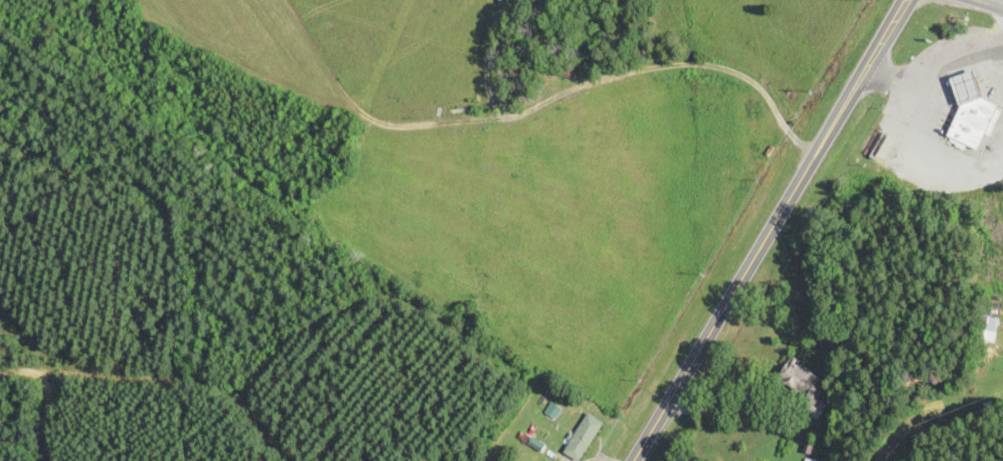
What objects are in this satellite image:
road: (985, 5)
road: (933, 62)
building: (971, 115)
road: (925, 161)
road: (768, 230)
building: (804, 386)
building: (583, 438)

